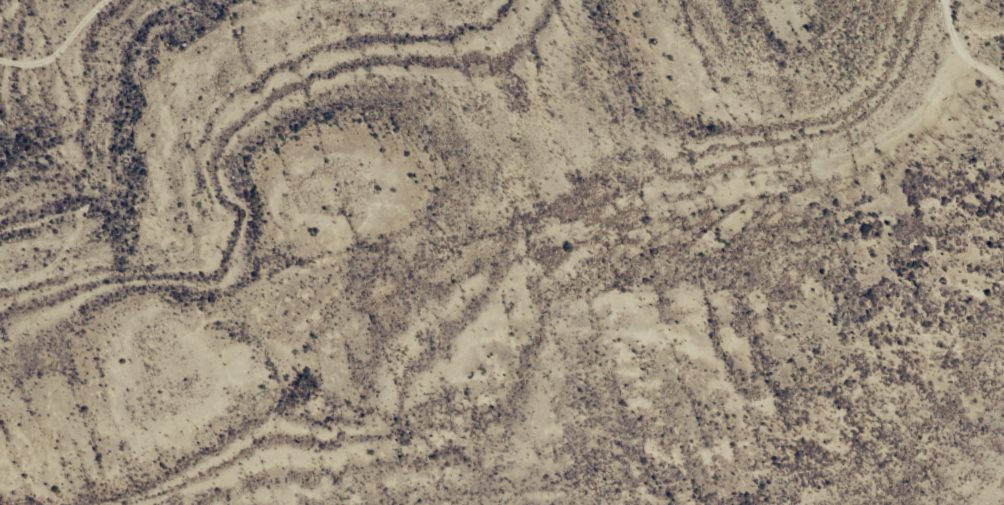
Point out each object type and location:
road: (958, 27)

